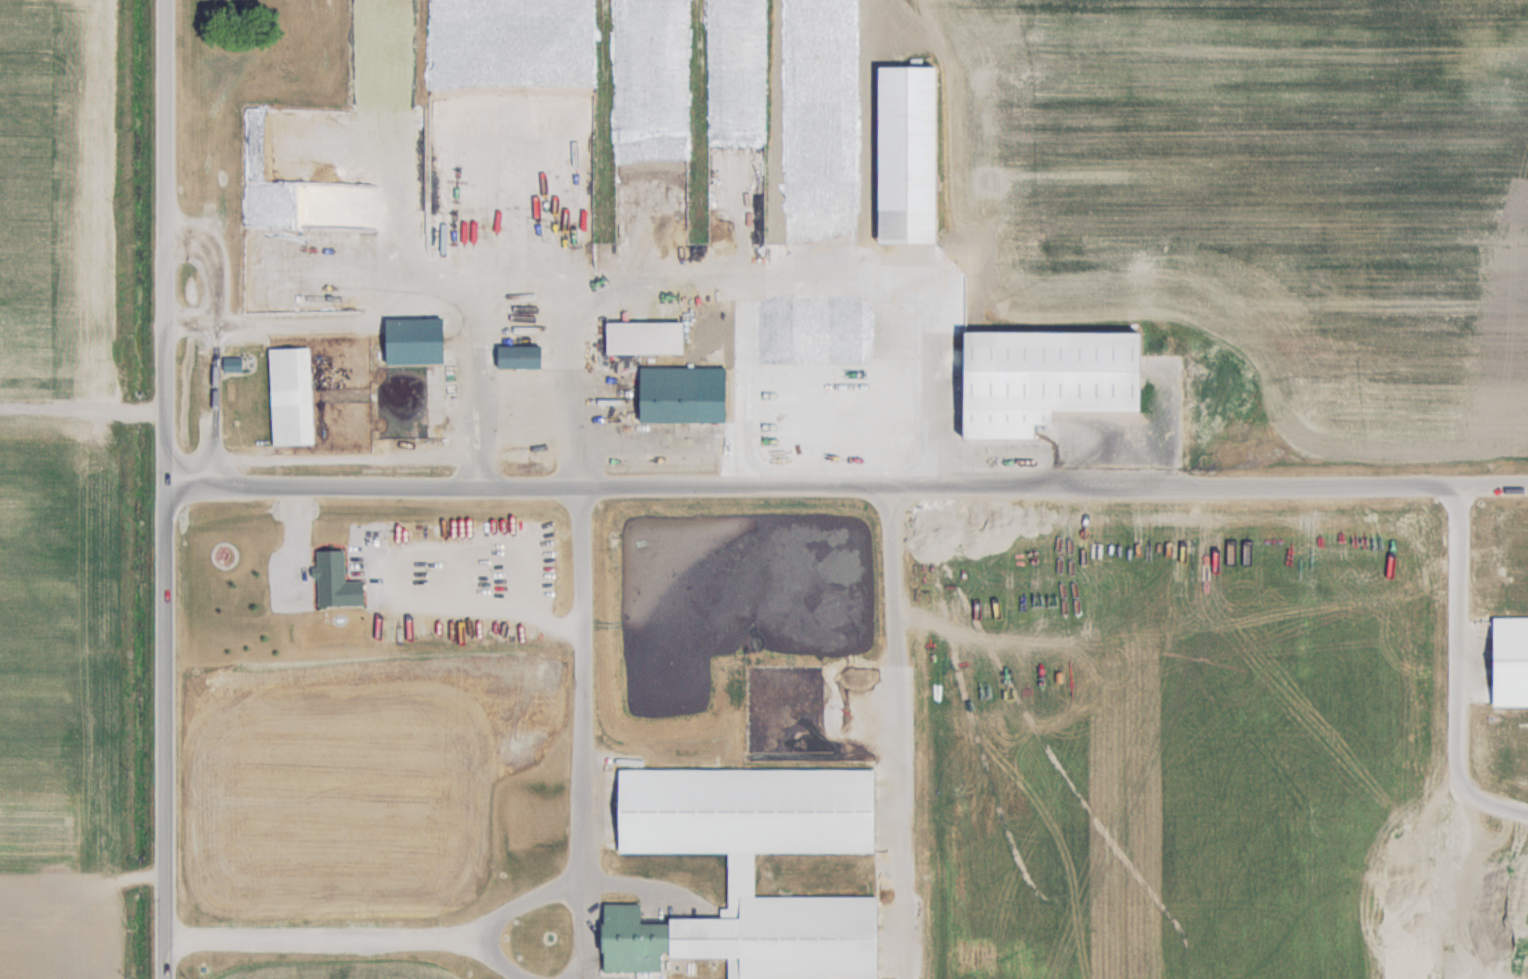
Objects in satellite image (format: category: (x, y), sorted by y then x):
building: (479, 194)
building: (459, 283)
building: (414, 332)
building: (642, 336)
building: (666, 393)
building: (289, 395)
road: (167, 489)
building: (746, 869)

